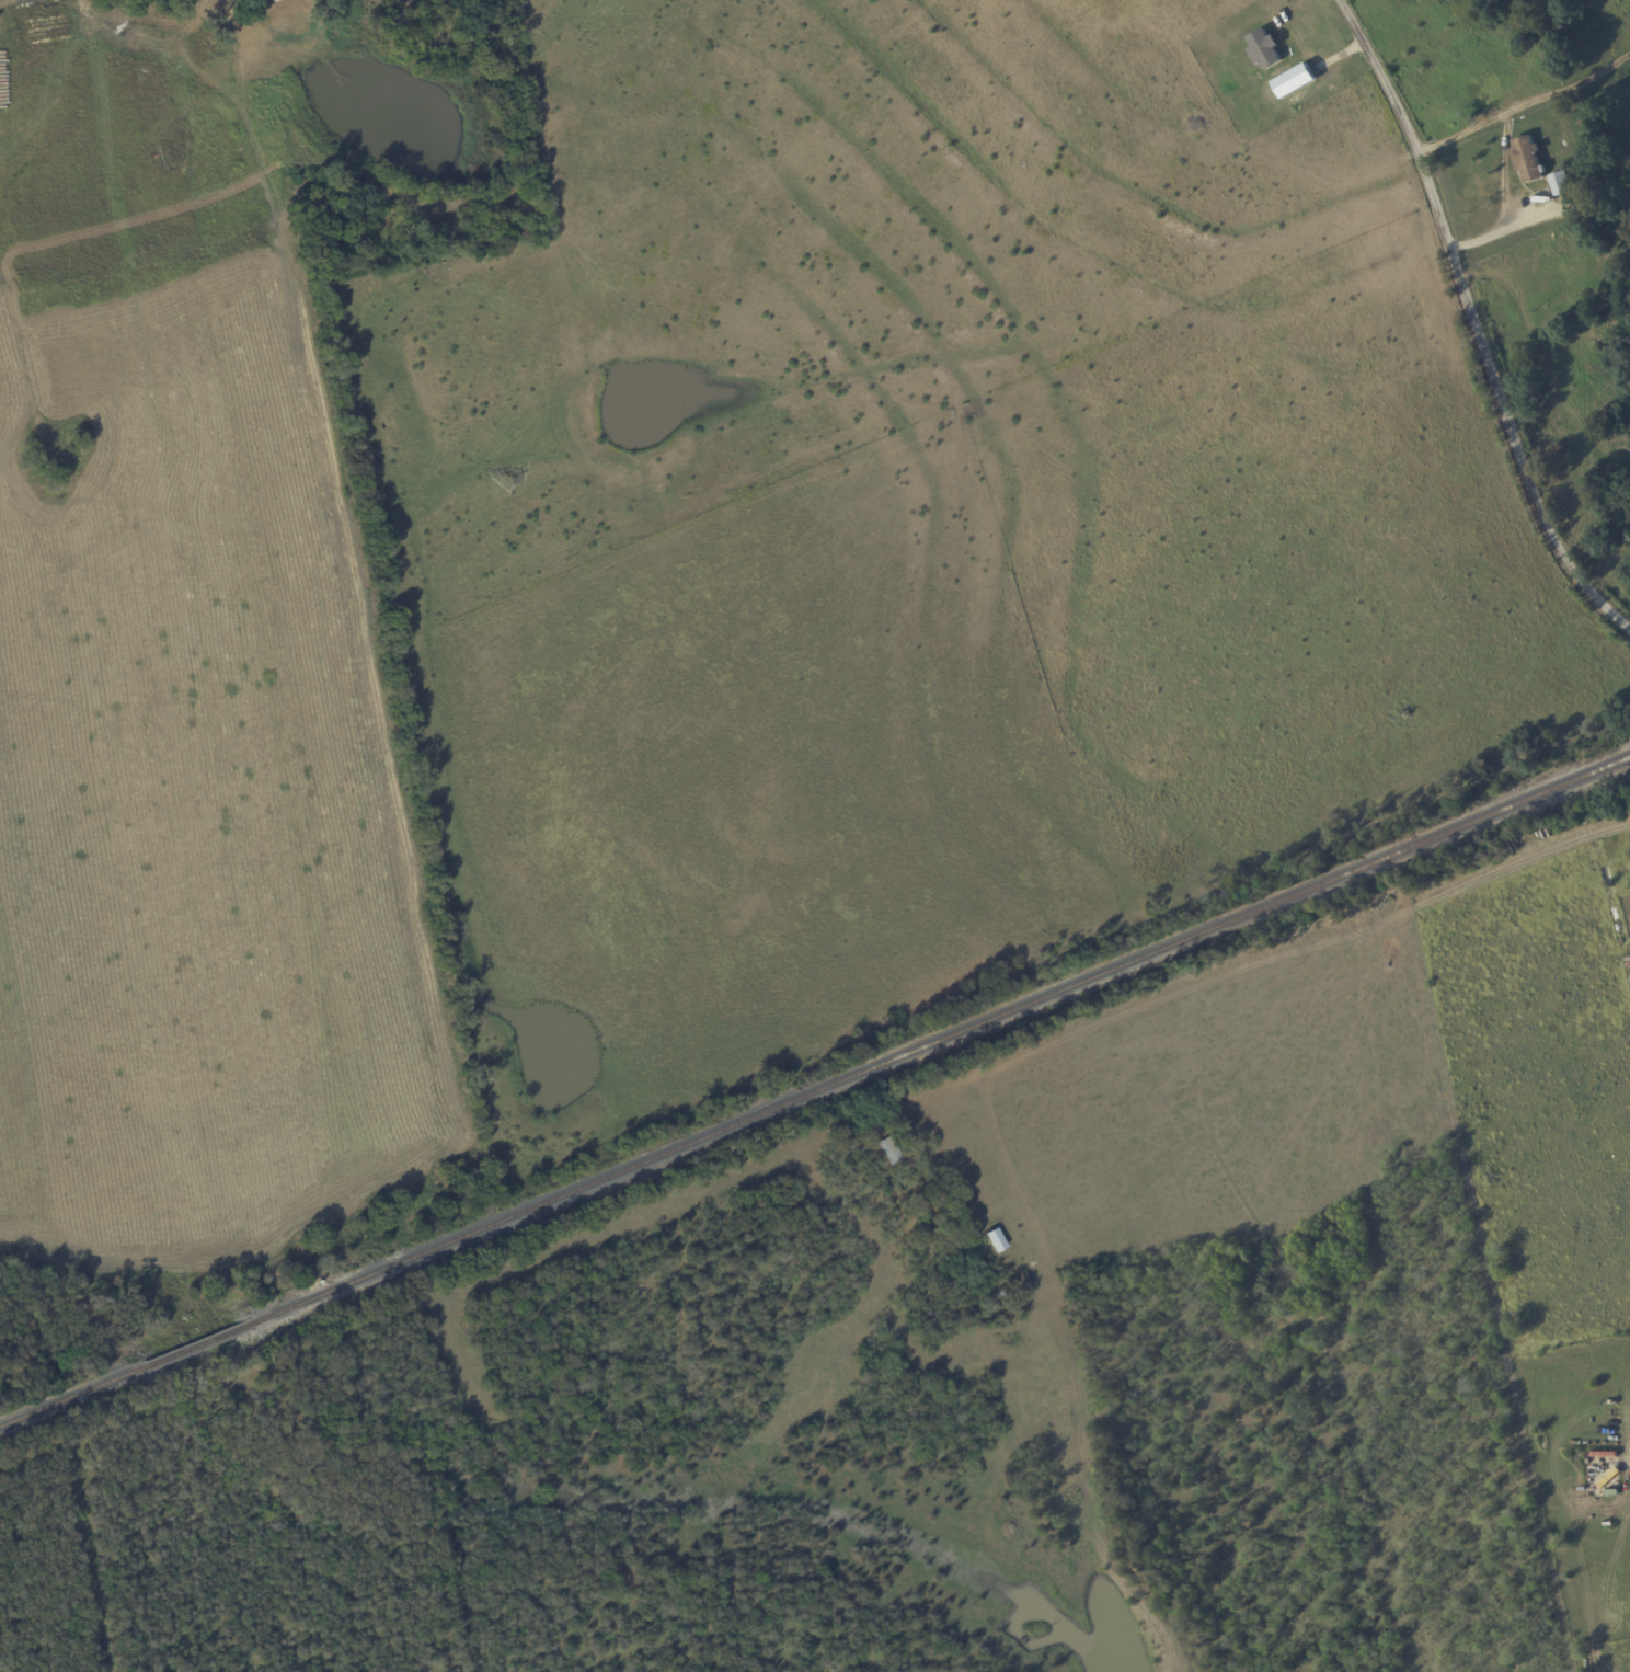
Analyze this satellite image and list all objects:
building: (1262, 49)
building: (1525, 159)
building: (1559, 183)
road: (1476, 322)
railway: (815, 1092)
building: (991, 1240)

